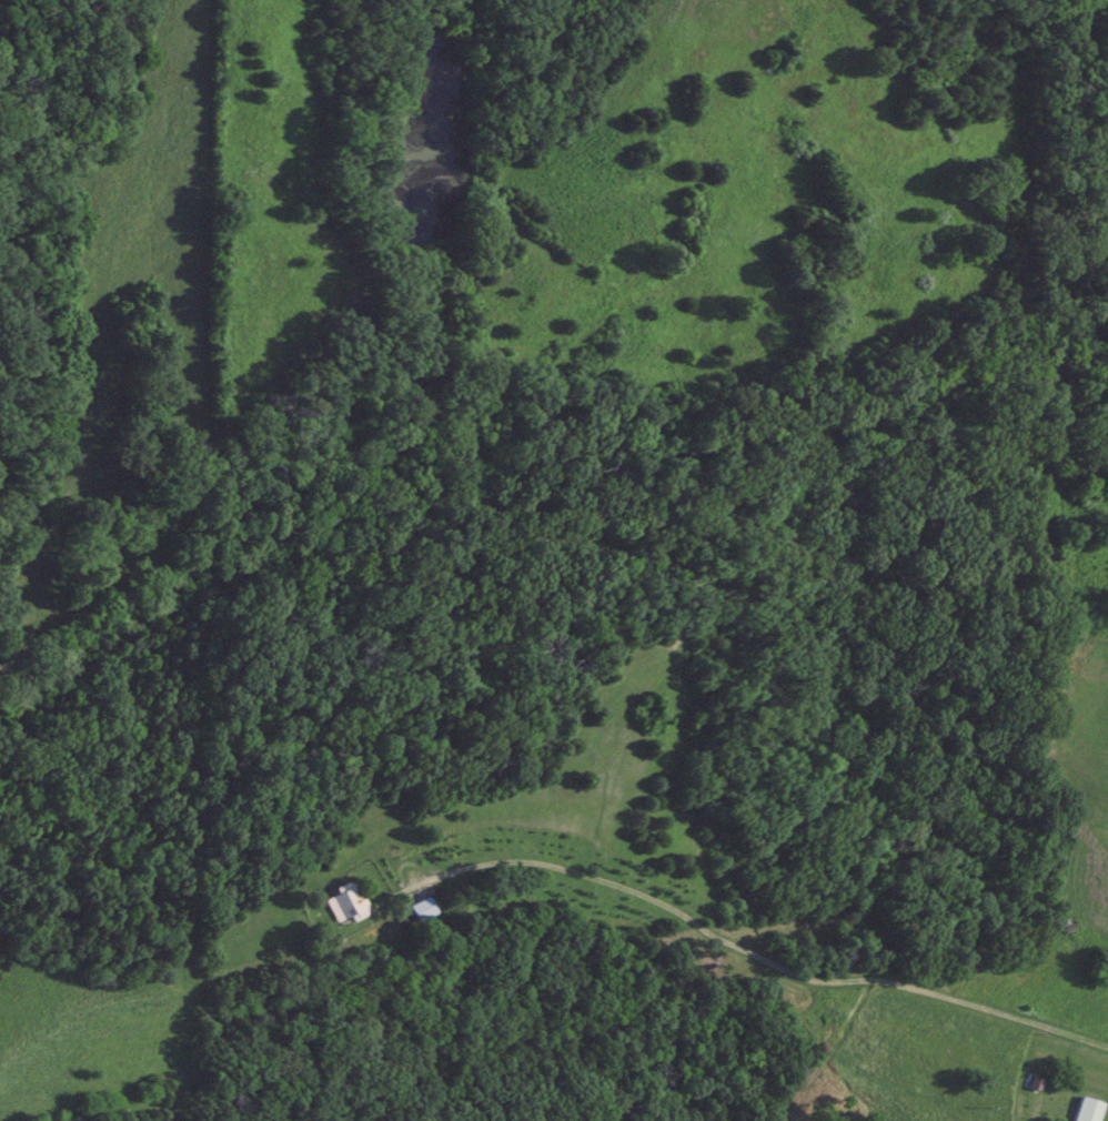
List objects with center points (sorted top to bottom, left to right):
building: (346, 901)
building: (421, 910)
building: (1088, 1109)

